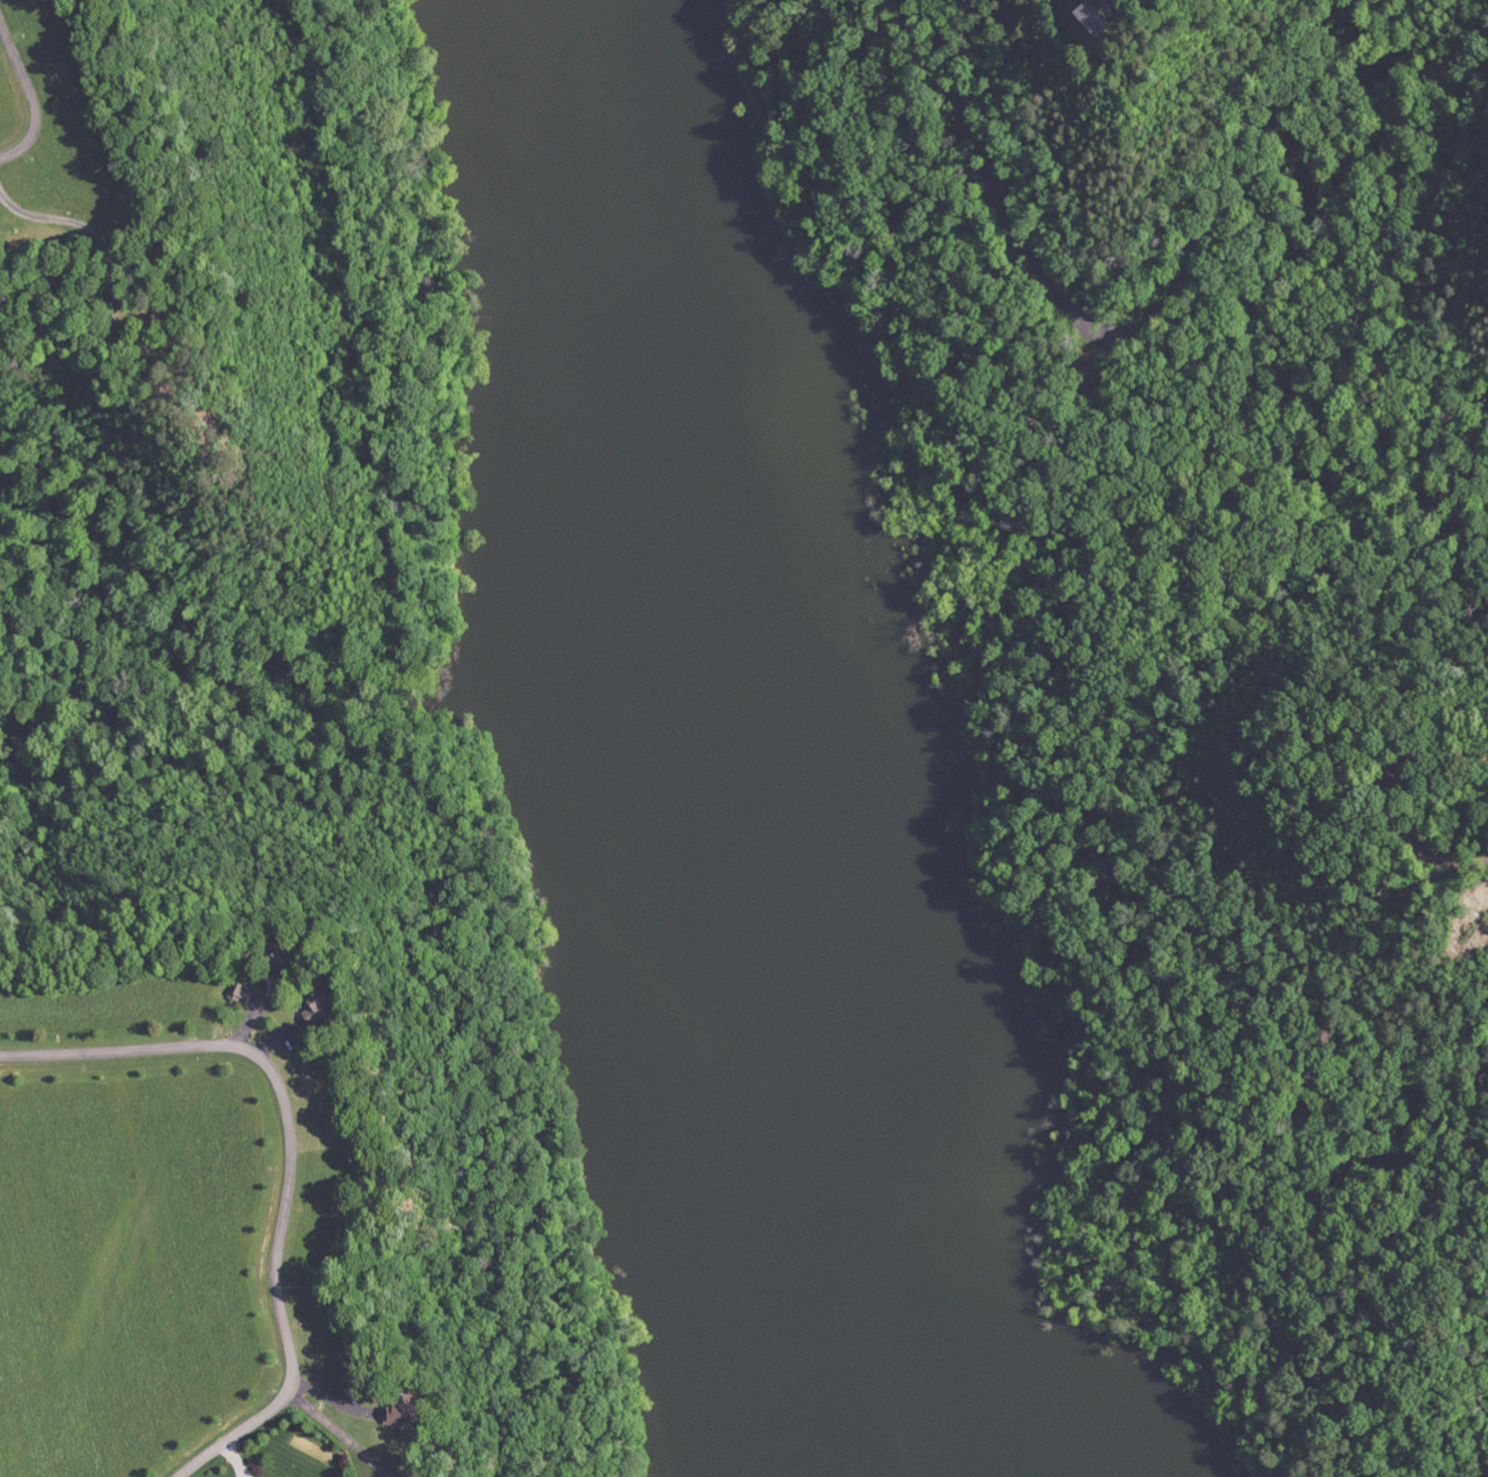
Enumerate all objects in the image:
building: (1083, 17)
road: (30, 98)
road: (1016, 221)
road: (1398, 793)
building: (242, 994)
road: (293, 1156)
building: (397, 1410)

